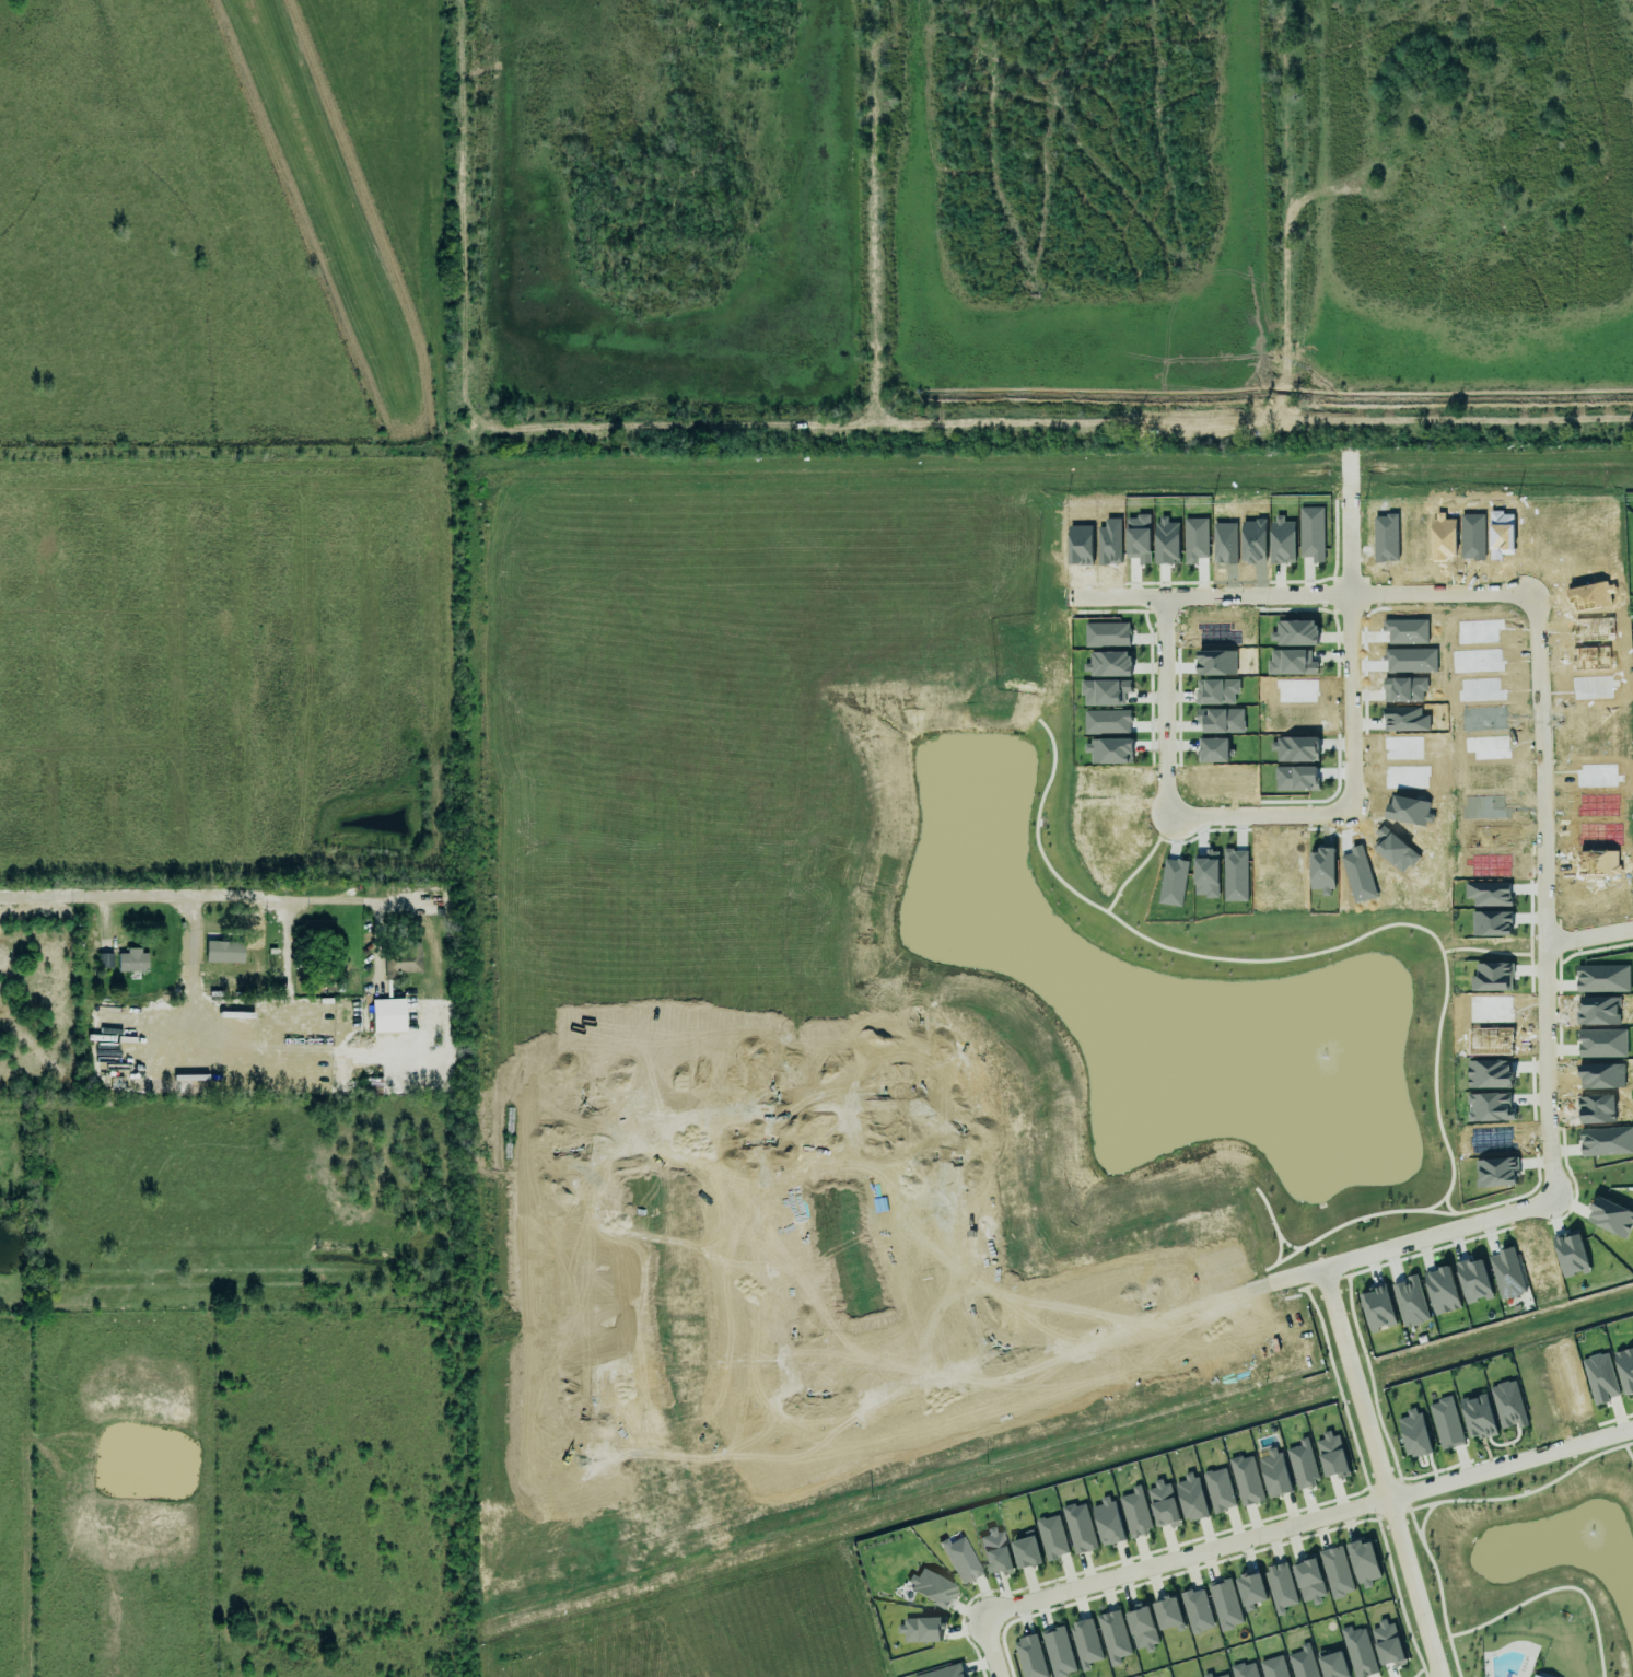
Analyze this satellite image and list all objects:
road: (1224, 598)
road: (1125, 599)
road: (184, 899)
building: (224, 952)
building: (105, 959)
building: (132, 960)
road: (285, 960)
building: (404, 960)
building: (334, 965)
building: (388, 1015)
building: (1489, 1073)
building: (1489, 1107)
road: (615, 1119)
road: (1506, 1200)
road: (1448, 1210)
building: (1610, 1216)
road: (1354, 1219)
road: (1485, 1221)
road: (1291, 1247)
building: (1570, 1254)
building: (1506, 1273)
building: (1473, 1280)
building: (1442, 1290)
road: (563, 1297)
building: (1410, 1302)
building: (1377, 1308)
road: (771, 1315)
building: (1625, 1369)
building: (1598, 1376)
building: (1507, 1405)
building: (1477, 1416)
building: (1444, 1421)
building: (1413, 1433)
building: (1331, 1455)
building: (1302, 1464)
road: (1506, 1465)
building: (1274, 1471)
building: (1245, 1480)
building: (1217, 1489)
building: (1190, 1498)
building: (1162, 1503)
building: (1134, 1511)
building: (1107, 1522)
building: (1078, 1528)
building: (1051, 1537)
road: (1240, 1541)
building: (1025, 1548)
building: (995, 1551)
building: (961, 1560)
building: (1363, 1563)
building: (1335, 1572)
building: (1308, 1581)
building: (931, 1584)
building: (1280, 1587)
building: (1250, 1591)
building: (1224, 1604)
building: (1195, 1610)
building: (1167, 1614)
building: (1141, 1629)
building: (921, 1630)
building: (1112, 1637)
building: (1085, 1642)
building: (1387, 1643)
building: (1058, 1652)
building: (1358, 1652)
building: (1028, 1655)
building: (1302, 1662)
building: (1332, 1664)
building: (1273, 1667)
building: (1244, 1669)
building: (944, 1672)
building: (1206, 1675)
building: (1223, 1676)
building: (1536, 1676)

